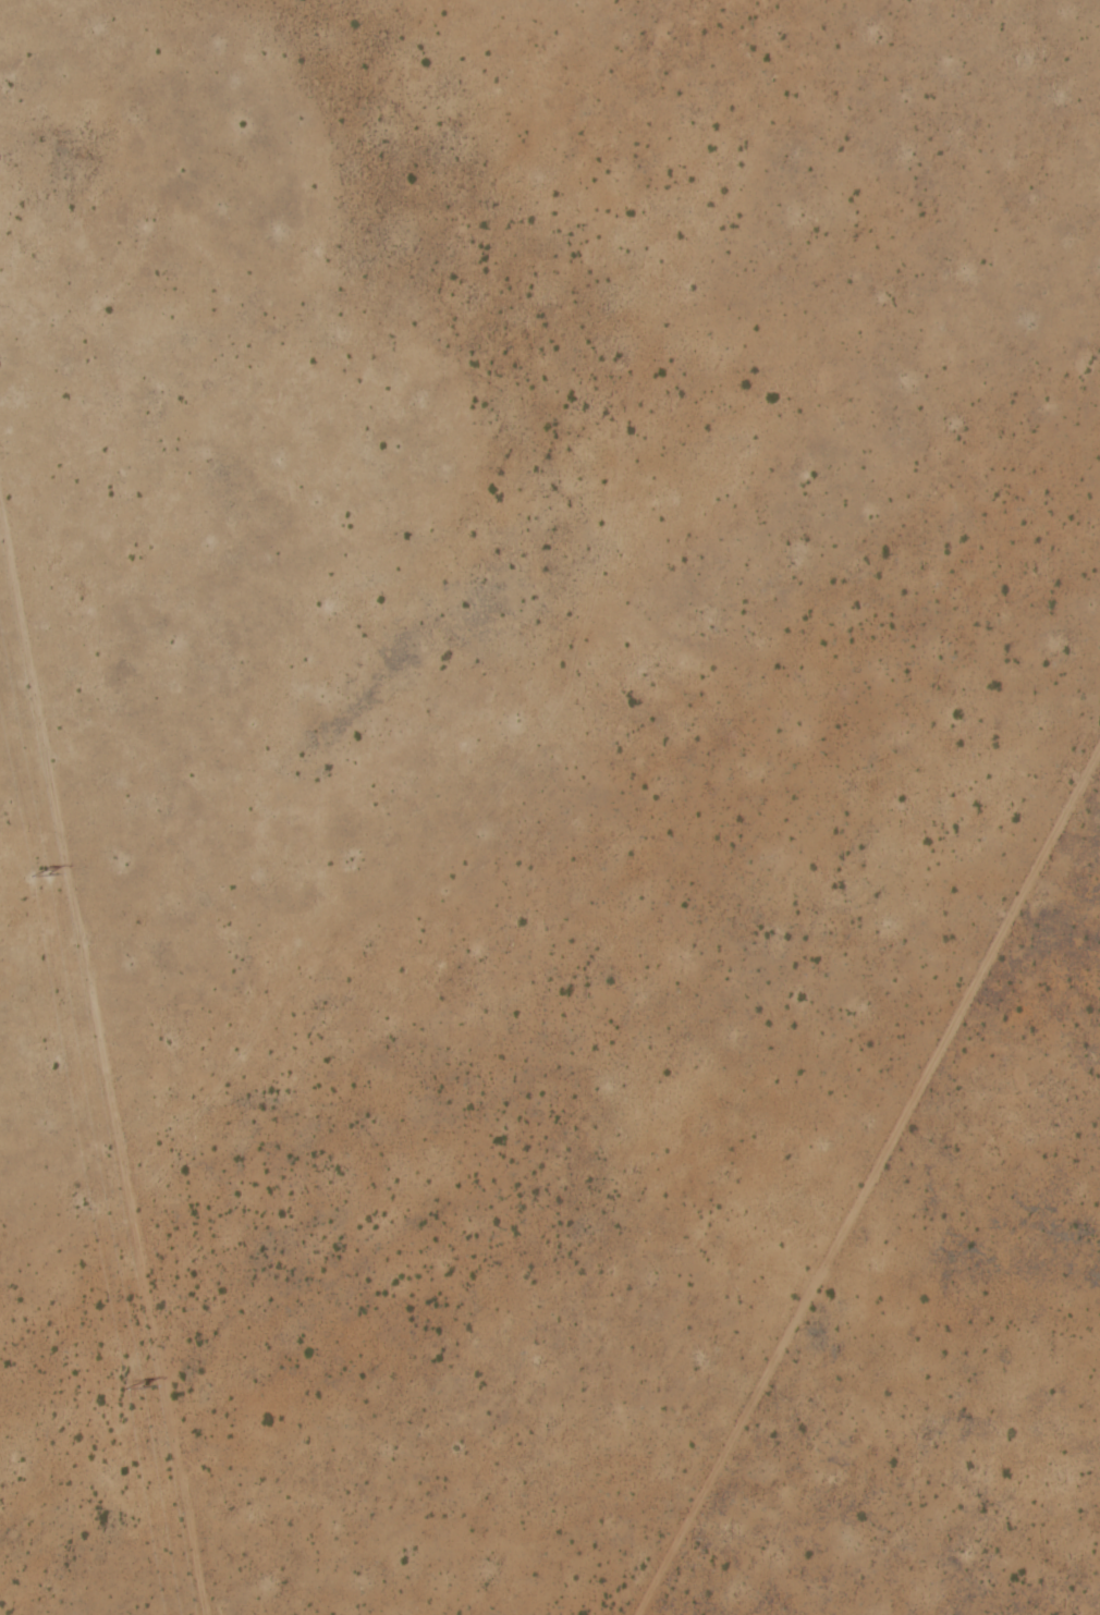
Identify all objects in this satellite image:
road: (196, 807)
power tower: (42, 878)
power tower: (136, 1393)

